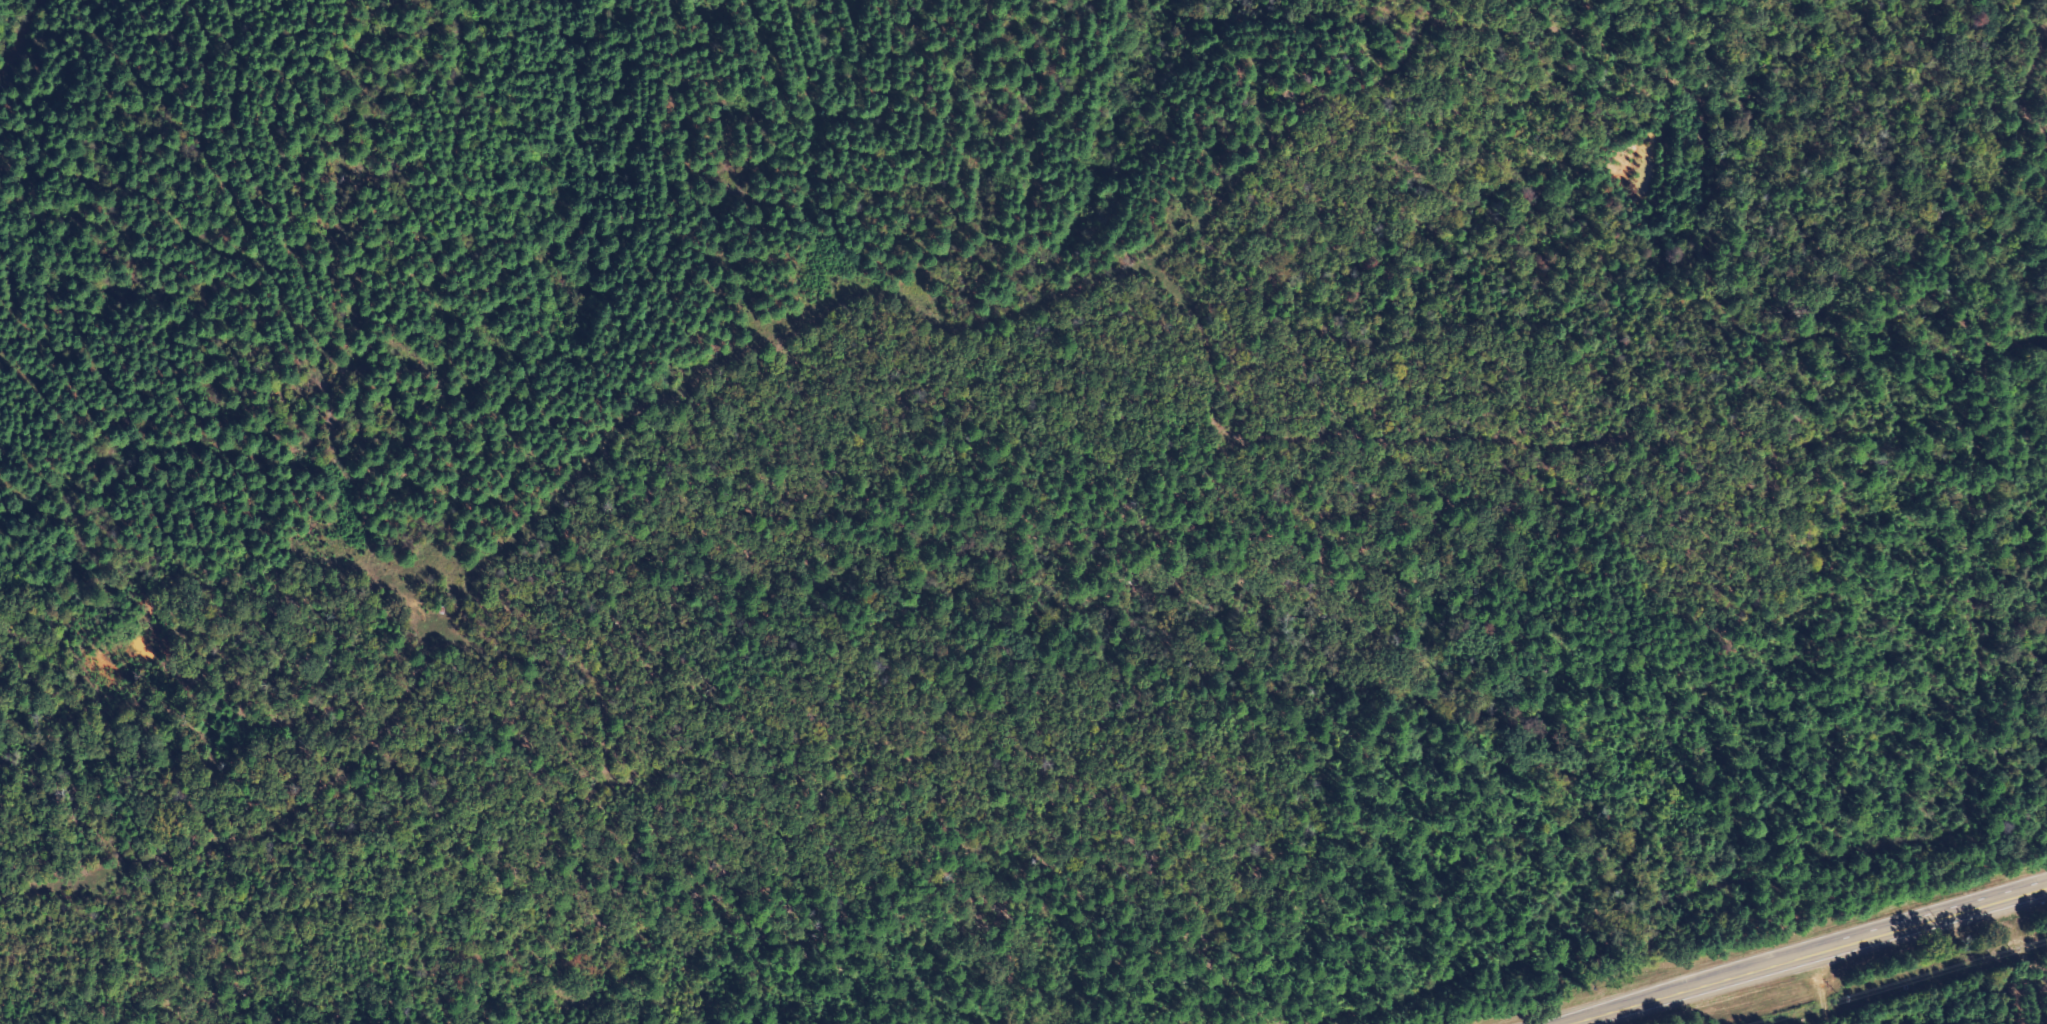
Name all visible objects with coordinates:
road: (1806, 959)
road: (1823, 989)

